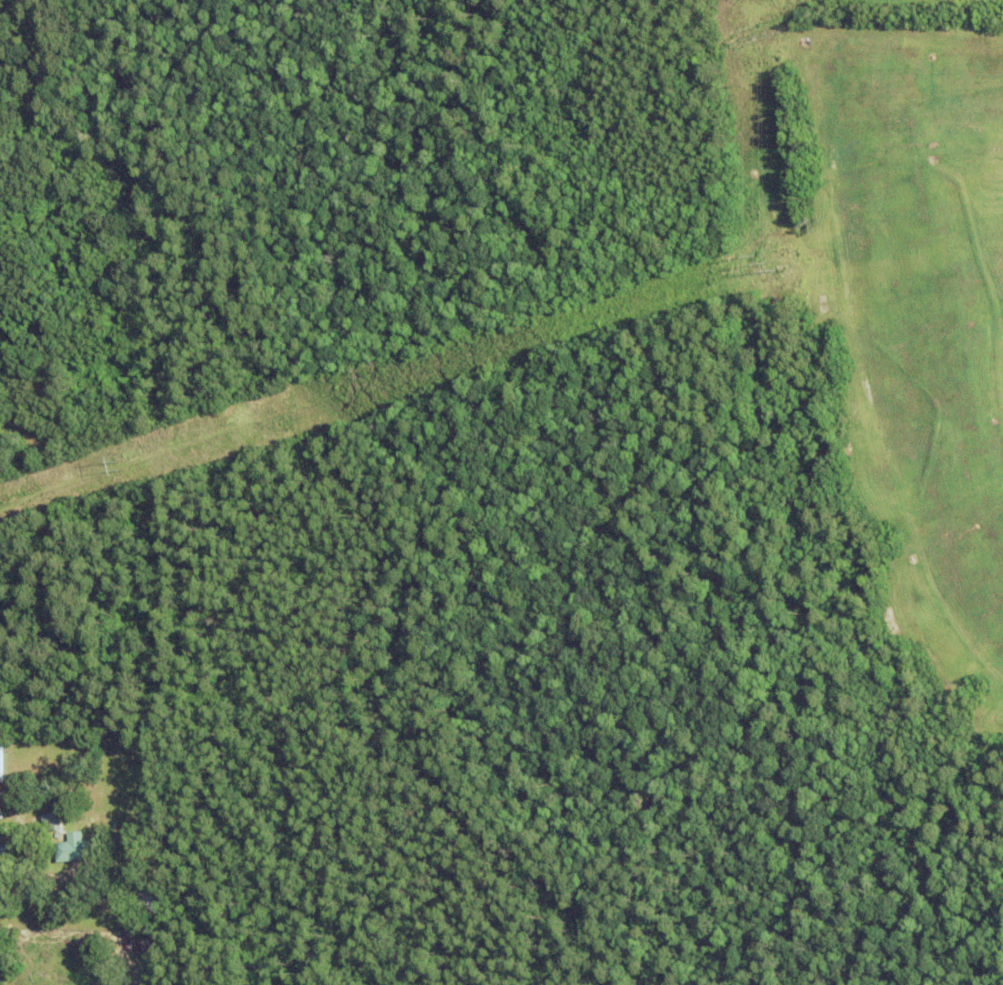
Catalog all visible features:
building: (0, 755)
building: (51, 823)
building: (75, 849)
road: (41, 874)
building: (148, 902)
building: (139, 942)

